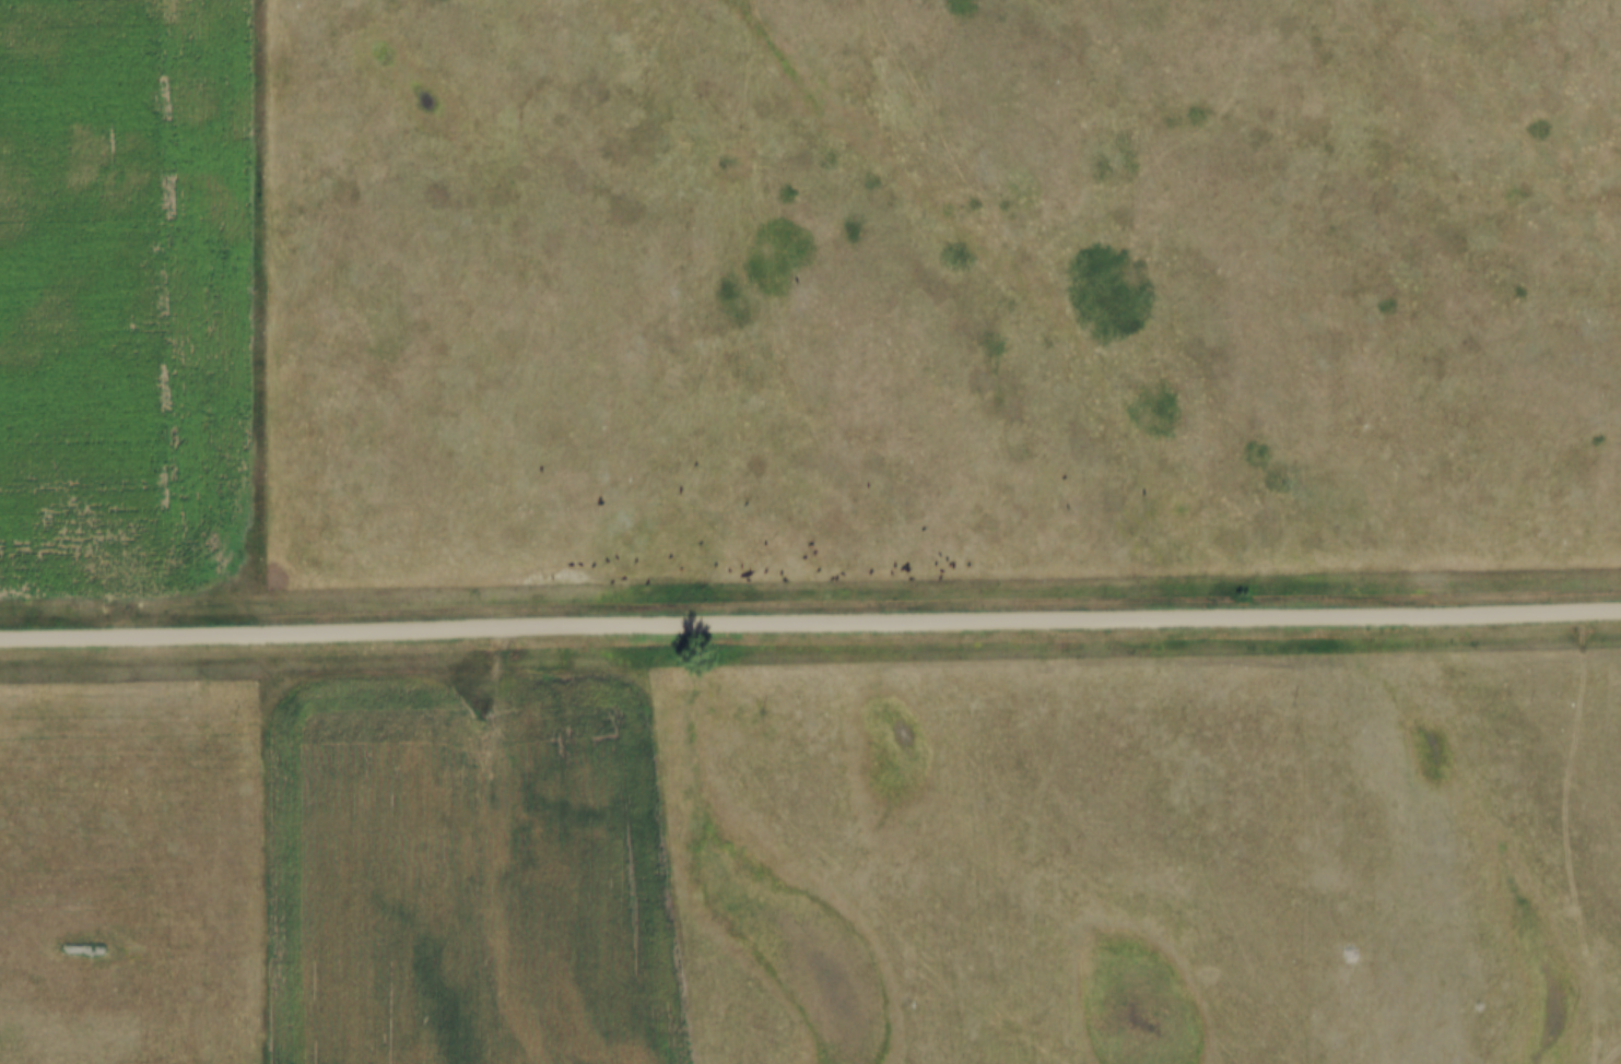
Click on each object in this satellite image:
road: (810, 624)

